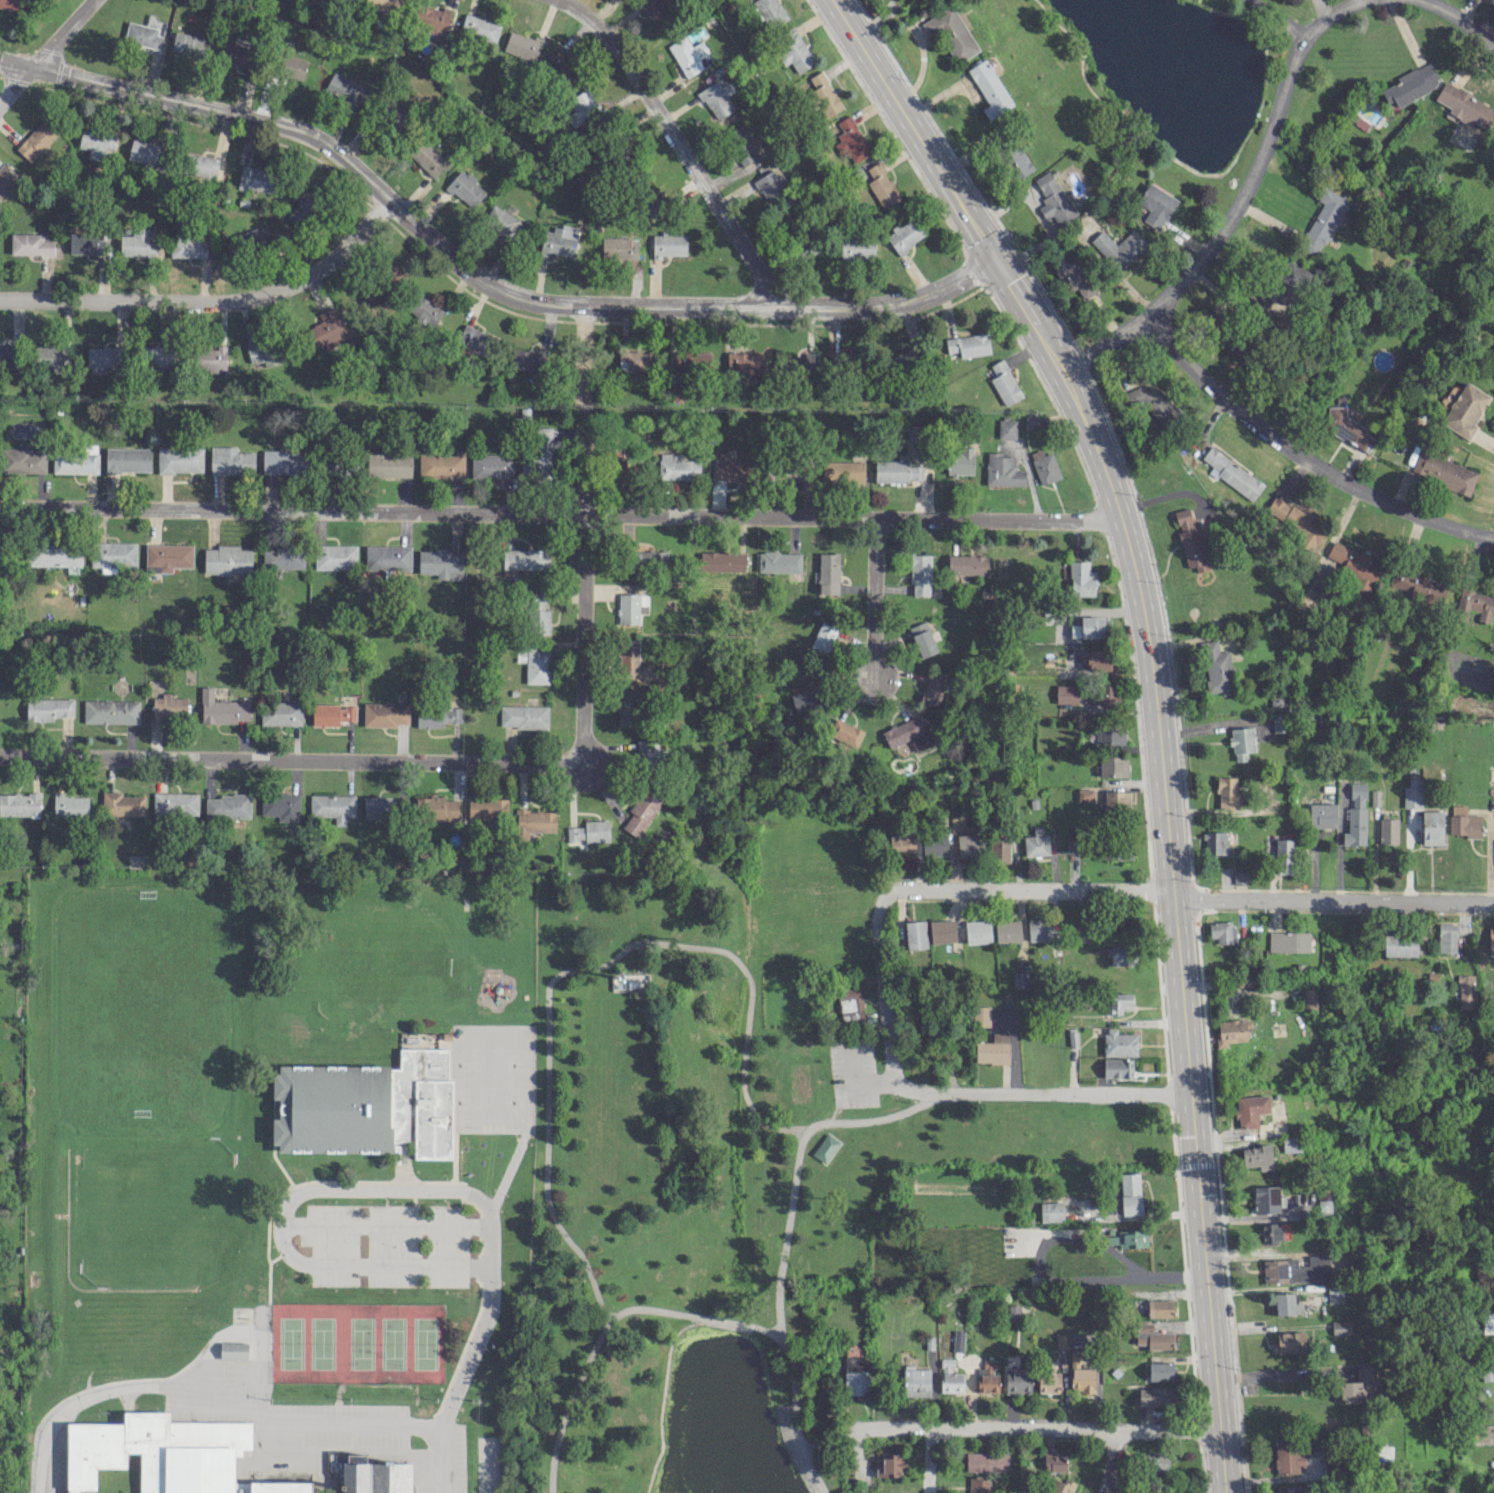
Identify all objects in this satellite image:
building: (343, 0)
building: (12, 5)
building: (384, 6)
building: (656, 12)
building: (770, 12)
building: (432, 19)
road: (1278, 19)
road: (1449, 20)
building: (479, 29)
building: (950, 33)
building: (142, 35)
building: (188, 44)
building: (522, 46)
building: (794, 50)
road: (43, 52)
building: (236, 55)
building: (689, 55)
building: (559, 65)
building: (292, 66)
building: (1410, 85)
building: (344, 89)
building: (990, 89)
building: (824, 93)
building: (714, 94)
building: (1465, 106)
building: (582, 107)
road: (915, 133)
building: (37, 140)
building: (851, 140)
road: (678, 142)
building: (96, 143)
building: (146, 153)
building: (428, 157)
building: (1016, 161)
building: (199, 164)
building: (6, 179)
building: (257, 179)
building: (771, 186)
building: (882, 186)
building: (465, 188)
building: (1053, 198)
road: (1231, 202)
building: (1155, 205)
building: (303, 210)
building: (1324, 218)
building: (504, 223)
building: (905, 235)
building: (254, 238)
building: (559, 240)
building: (86, 243)
building: (137, 243)
building: (31, 244)
building: (669, 244)
building: (619, 247)
building: (856, 247)
building: (1118, 247)
building: (188, 248)
building: (393, 274)
road: (474, 276)
building: (1075, 278)
building: (1278, 283)
road: (211, 299)
building: (425, 311)
building: (329, 329)
building: (475, 340)
building: (969, 345)
building: (264, 350)
building: (8, 352)
building: (155, 355)
building: (52, 357)
building: (102, 358)
building: (212, 358)
building: (903, 359)
building: (528, 360)
building: (634, 361)
building: (692, 361)
building: (842, 361)
building: (744, 362)
building: (805, 364)
building: (1004, 382)
building: (1148, 400)
building: (1465, 410)
building: (1030, 422)
building: (1006, 428)
building: (1348, 429)
building: (538, 456)
building: (128, 459)
building: (180, 459)
building: (23, 460)
building: (231, 460)
road: (1301, 460)
building: (75, 462)
building: (283, 462)
building: (960, 462)
building: (389, 465)
building: (441, 465)
building: (492, 466)
building: (1044, 466)
building: (619, 467)
building: (677, 467)
building: (731, 468)
building: (796, 470)
building: (1002, 470)
building: (842, 471)
building: (895, 471)
building: (1443, 471)
building: (1232, 473)
road: (560, 513)
building: (1295, 521)
road: (582, 532)
building: (1190, 540)
building: (0, 552)
building: (52, 554)
building: (113, 555)
building: (168, 557)
building: (283, 557)
building: (335, 557)
building: (387, 557)
building: (525, 558)
building: (648, 559)
building: (227, 560)
building: (721, 561)
building: (779, 562)
building: (441, 563)
building: (967, 564)
building: (1356, 565)
building: (828, 573)
building: (920, 574)
building: (1082, 579)
building: (1417, 585)
road: (878, 596)
building: (1476, 603)
building: (631, 607)
building: (538, 613)
building: (1088, 627)
building: (823, 638)
building: (922, 639)
building: (629, 658)
building: (1101, 660)
building: (535, 665)
building: (1216, 668)
building: (932, 689)
building: (1066, 693)
building: (805, 696)
building: (1105, 697)
building: (1277, 700)
building: (50, 708)
building: (169, 708)
building: (627, 708)
building: (222, 709)
building: (111, 711)
building: (281, 713)
building: (332, 714)
building: (385, 714)
building: (437, 716)
building: (524, 716)
building: (1279, 722)
building: (845, 732)
building: (907, 733)
building: (1109, 734)
building: (1241, 742)
building: (649, 754)
road: (290, 755)
building: (1113, 765)
building: (1226, 792)
building: (1412, 793)
building: (1085, 794)
building: (1375, 797)
building: (1116, 799)
building: (175, 803)
building: (20, 804)
building: (122, 804)
building: (70, 805)
building: (227, 806)
building: (281, 806)
building: (333, 807)
building: (377, 807)
building: (437, 808)
building: (487, 808)
building: (642, 812)
building: (1322, 815)
building: (1356, 815)
building: (534, 822)
building: (1463, 822)
building: (1432, 827)
building: (1387, 830)
building: (589, 831)
building: (969, 842)
building: (1215, 842)
building: (1036, 843)
building: (934, 844)
building: (902, 845)
building: (999, 850)
building: (1118, 851)
building: (1284, 856)
road: (1166, 863)
building: (1239, 877)
road: (1032, 890)
traffic signals: (1169, 893)
road: (1331, 896)
building: (1039, 928)
building: (942, 931)
building: (977, 931)
building: (1007, 931)
building: (1222, 931)
building: (1082, 933)
building: (915, 934)
building: (1446, 937)
building: (1491, 938)
building: (1288, 941)
building: (1400, 945)
building: (1121, 953)
park: (381, 957)
road: (576, 971)
building: (1019, 980)
building: (1246, 980)
road: (882, 985)
building: (1310, 998)
building: (1119, 1002)
building: (850, 1003)
park: (140, 1008)
building: (980, 1015)
building: (1231, 1031)
building: (1119, 1043)
building: (993, 1049)
building: (1117, 1068)
parking lot: (851, 1075)
park: (494, 1079)
road: (1042, 1093)
building: (366, 1105)
building: (1250, 1109)
building: (1291, 1144)
building: (825, 1148)
building: (1257, 1156)
road: (797, 1163)
park: (695, 1192)
building: (1130, 1193)
building: (1267, 1199)
building: (1324, 1203)
building: (1051, 1211)
park: (145, 1219)
road: (269, 1222)
road: (283, 1223)
road: (386, 1225)
building: (1270, 1232)
building: (1129, 1238)
road: (1062, 1240)
parking lot: (388, 1244)
road: (279, 1255)
building: (1296, 1269)
building: (1485, 1282)
building: (1334, 1293)
building: (1287, 1304)
road: (648, 1308)
building: (1159, 1308)
building: (1013, 1312)
road: (487, 1313)
building: (1340, 1327)
road: (242, 1334)
building: (1152, 1336)
building: (1059, 1341)
building: (1289, 1342)
park: (358, 1343)
building: (234, 1351)
building: (987, 1366)
building: (1160, 1371)
parking lot: (223, 1372)
building: (1487, 1373)
road: (1279, 1374)
building: (856, 1375)
building: (1080, 1375)
building: (950, 1377)
building: (1017, 1380)
building: (1049, 1380)
building: (916, 1381)
building: (987, 1383)
building: (1359, 1386)
road: (662, 1392)
road: (213, 1394)
building: (1155, 1395)
parking lot: (211, 1417)
parking lot: (345, 1424)
road: (818, 1428)
road: (1032, 1428)
road: (341, 1454)
building: (166, 1455)
building: (1286, 1455)
parking lot: (458, 1458)
road: (803, 1460)
road: (1112, 1460)
road: (927, 1461)
building: (1054, 1461)
building: (986, 1462)
parking lot: (488, 1464)
building: (889, 1464)
building: (1154, 1464)
park: (120, 1477)
building: (377, 1478)
building: (978, 1485)
building: (1061, 1486)
building: (1291, 1489)

